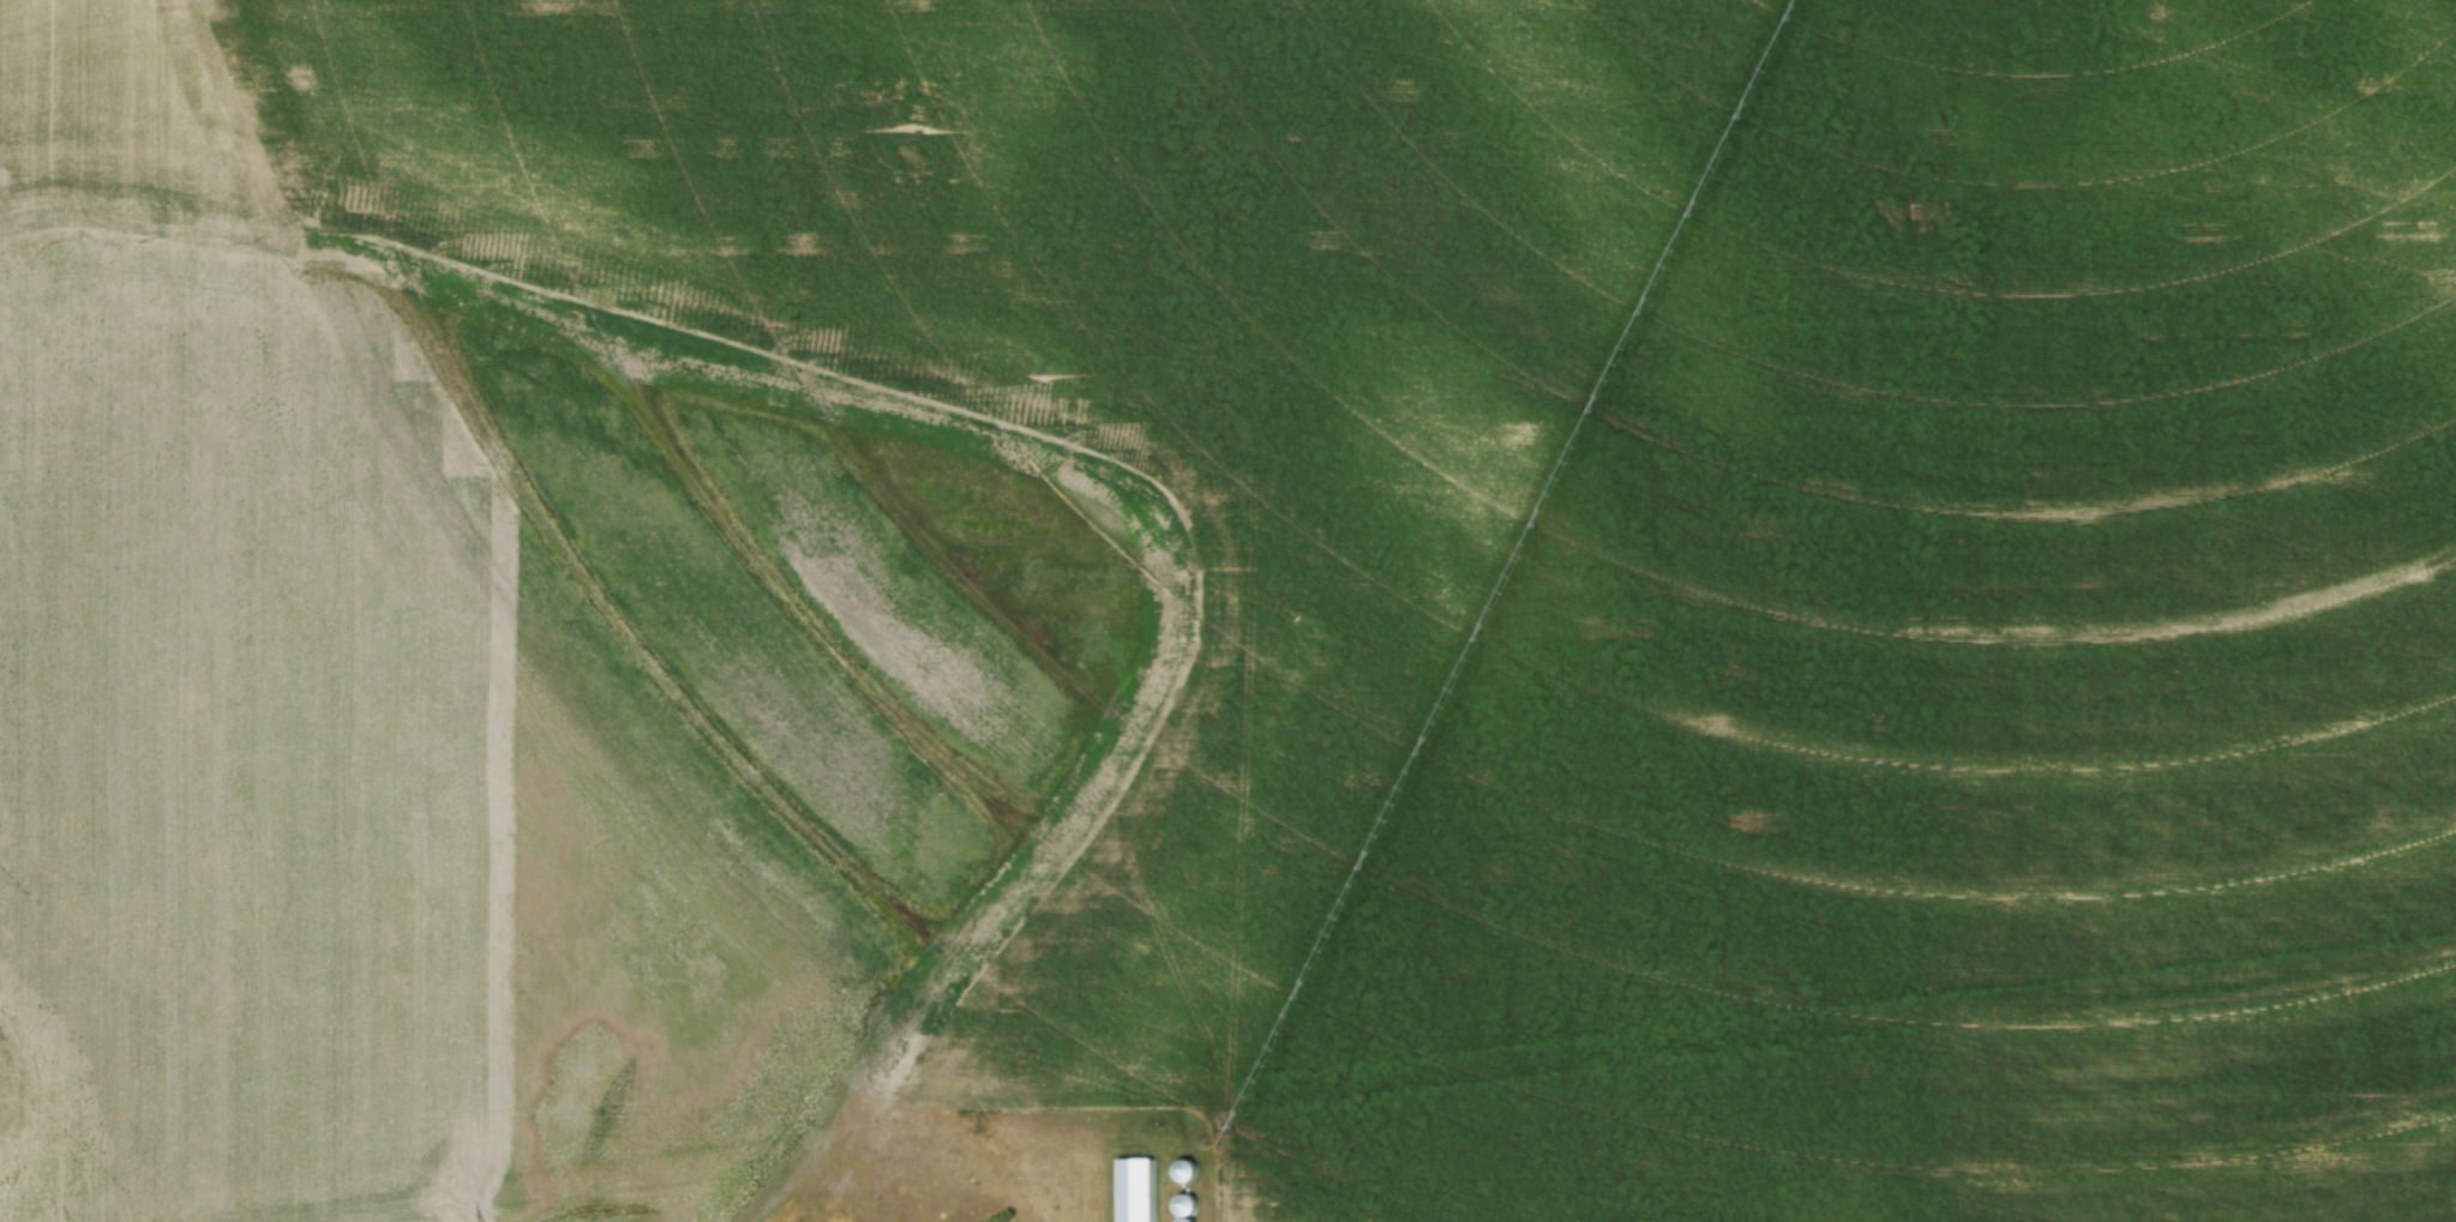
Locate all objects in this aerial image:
crop: (1231, 601)
building: (1187, 1169)
silo: (1187, 1169)
building: (1133, 1191)
building: (1185, 1204)
silo: (1185, 1204)
building: (1185, 1220)
silo: (1185, 1220)

